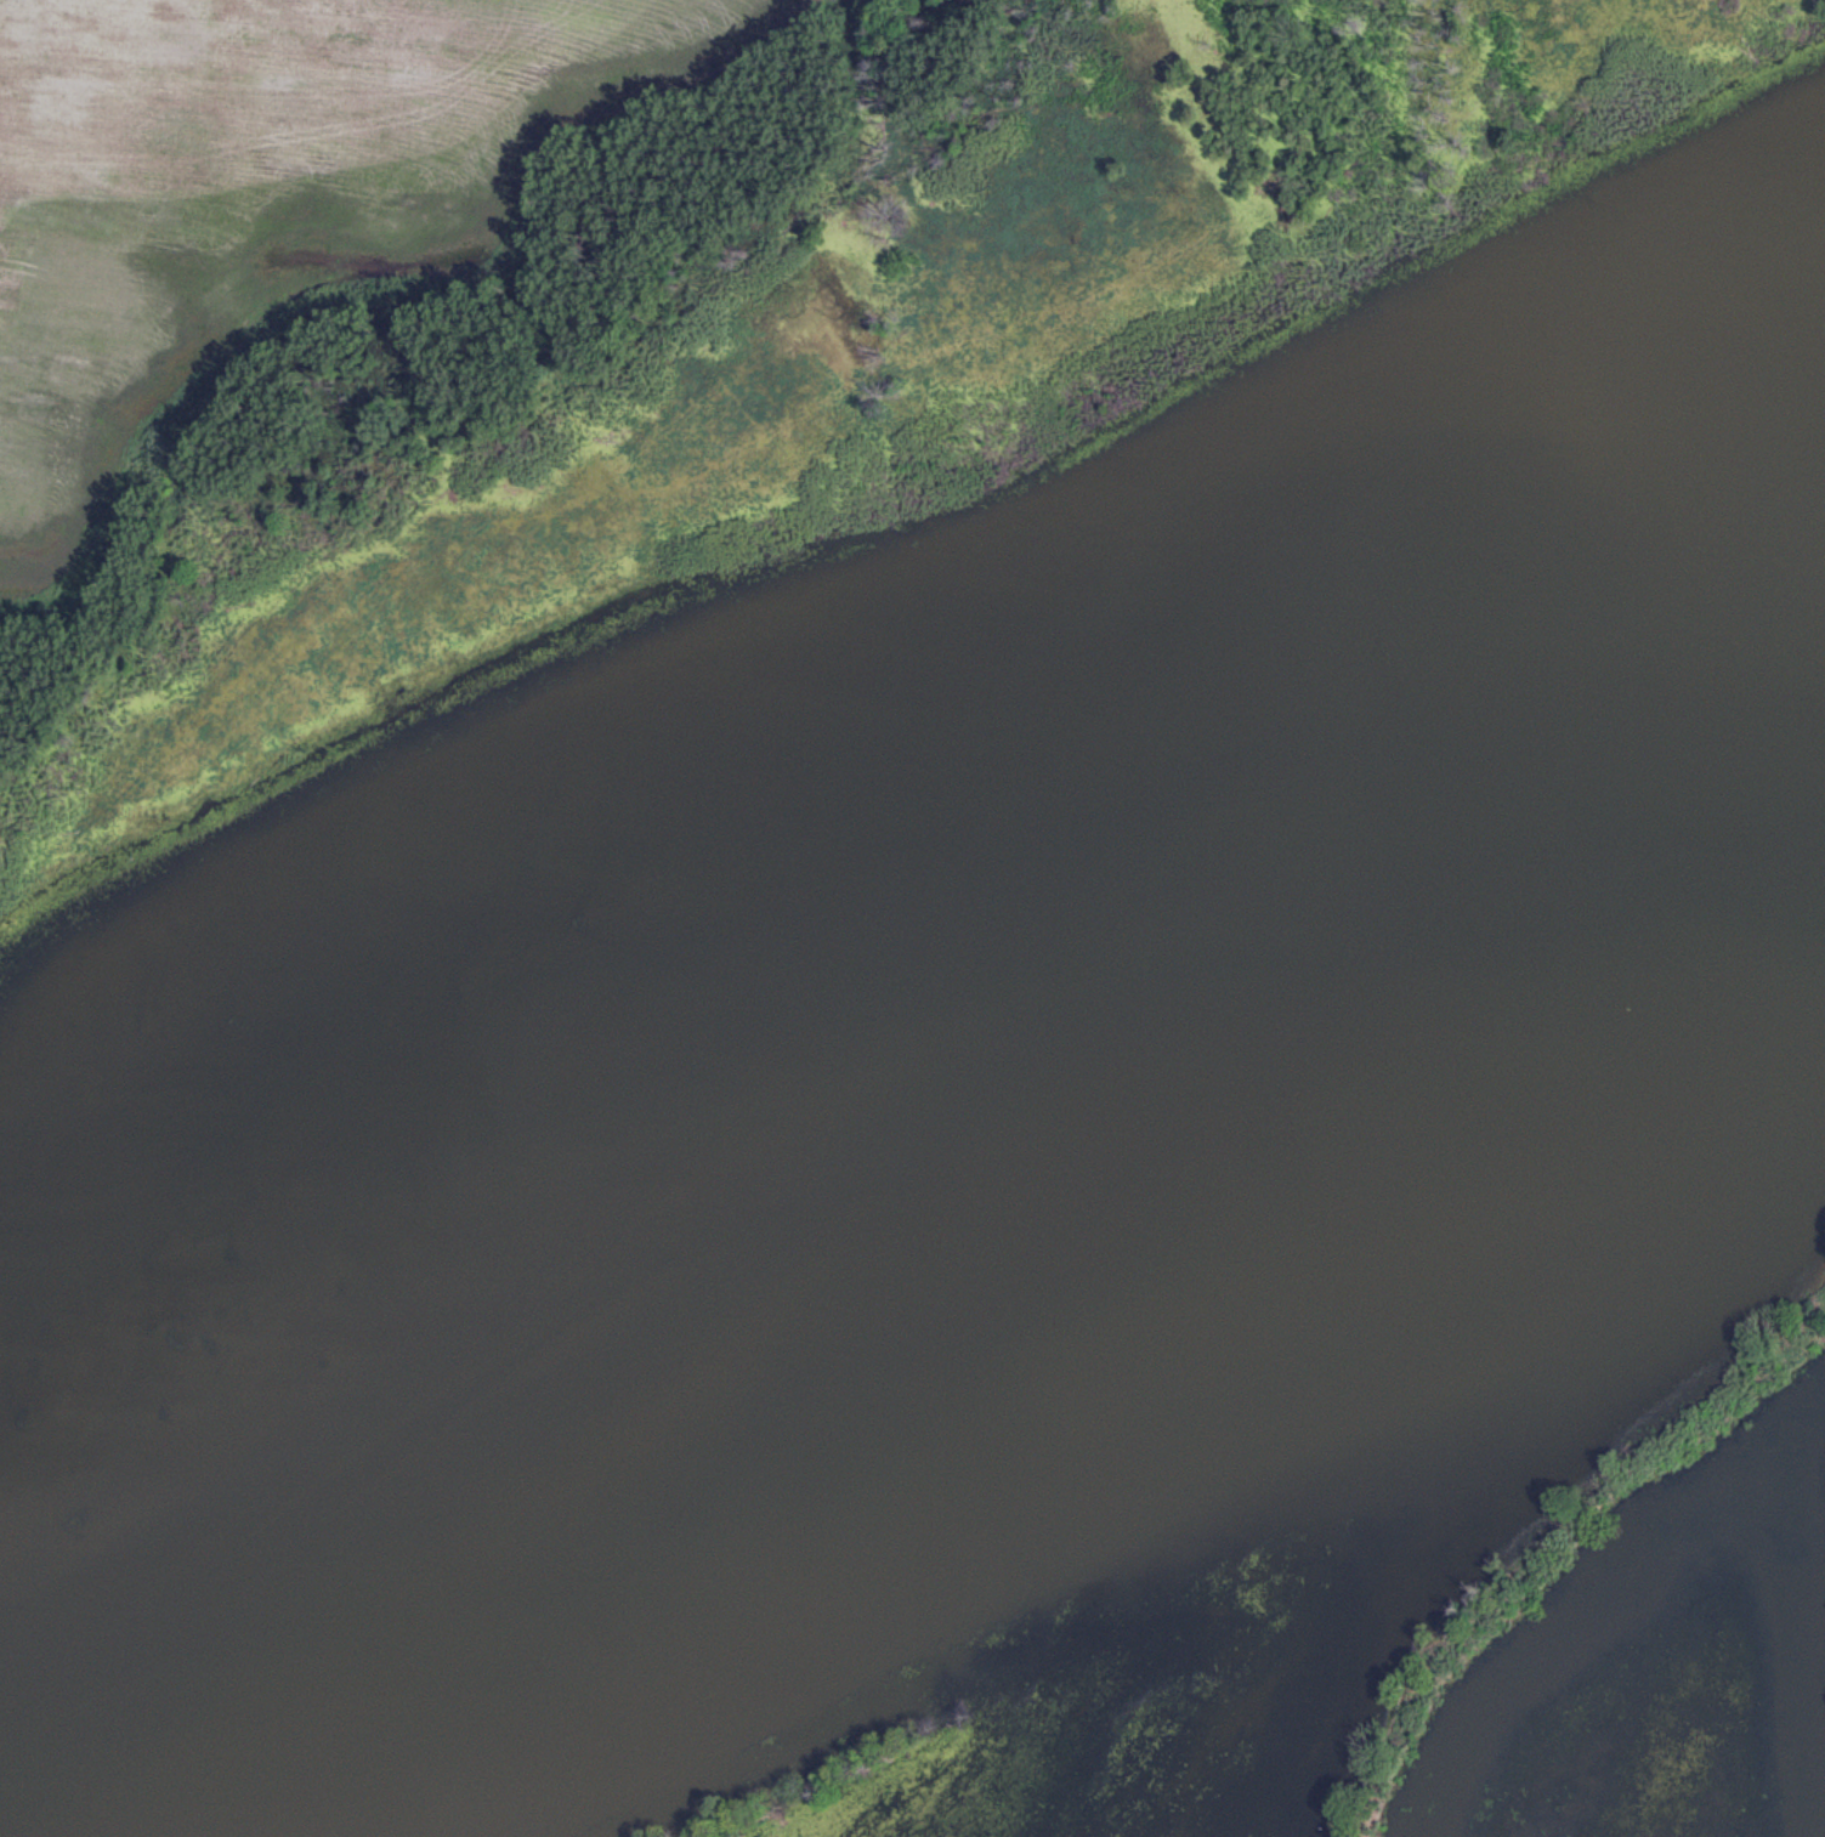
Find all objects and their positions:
river: (884, 1219)
road: (1555, 1537)

